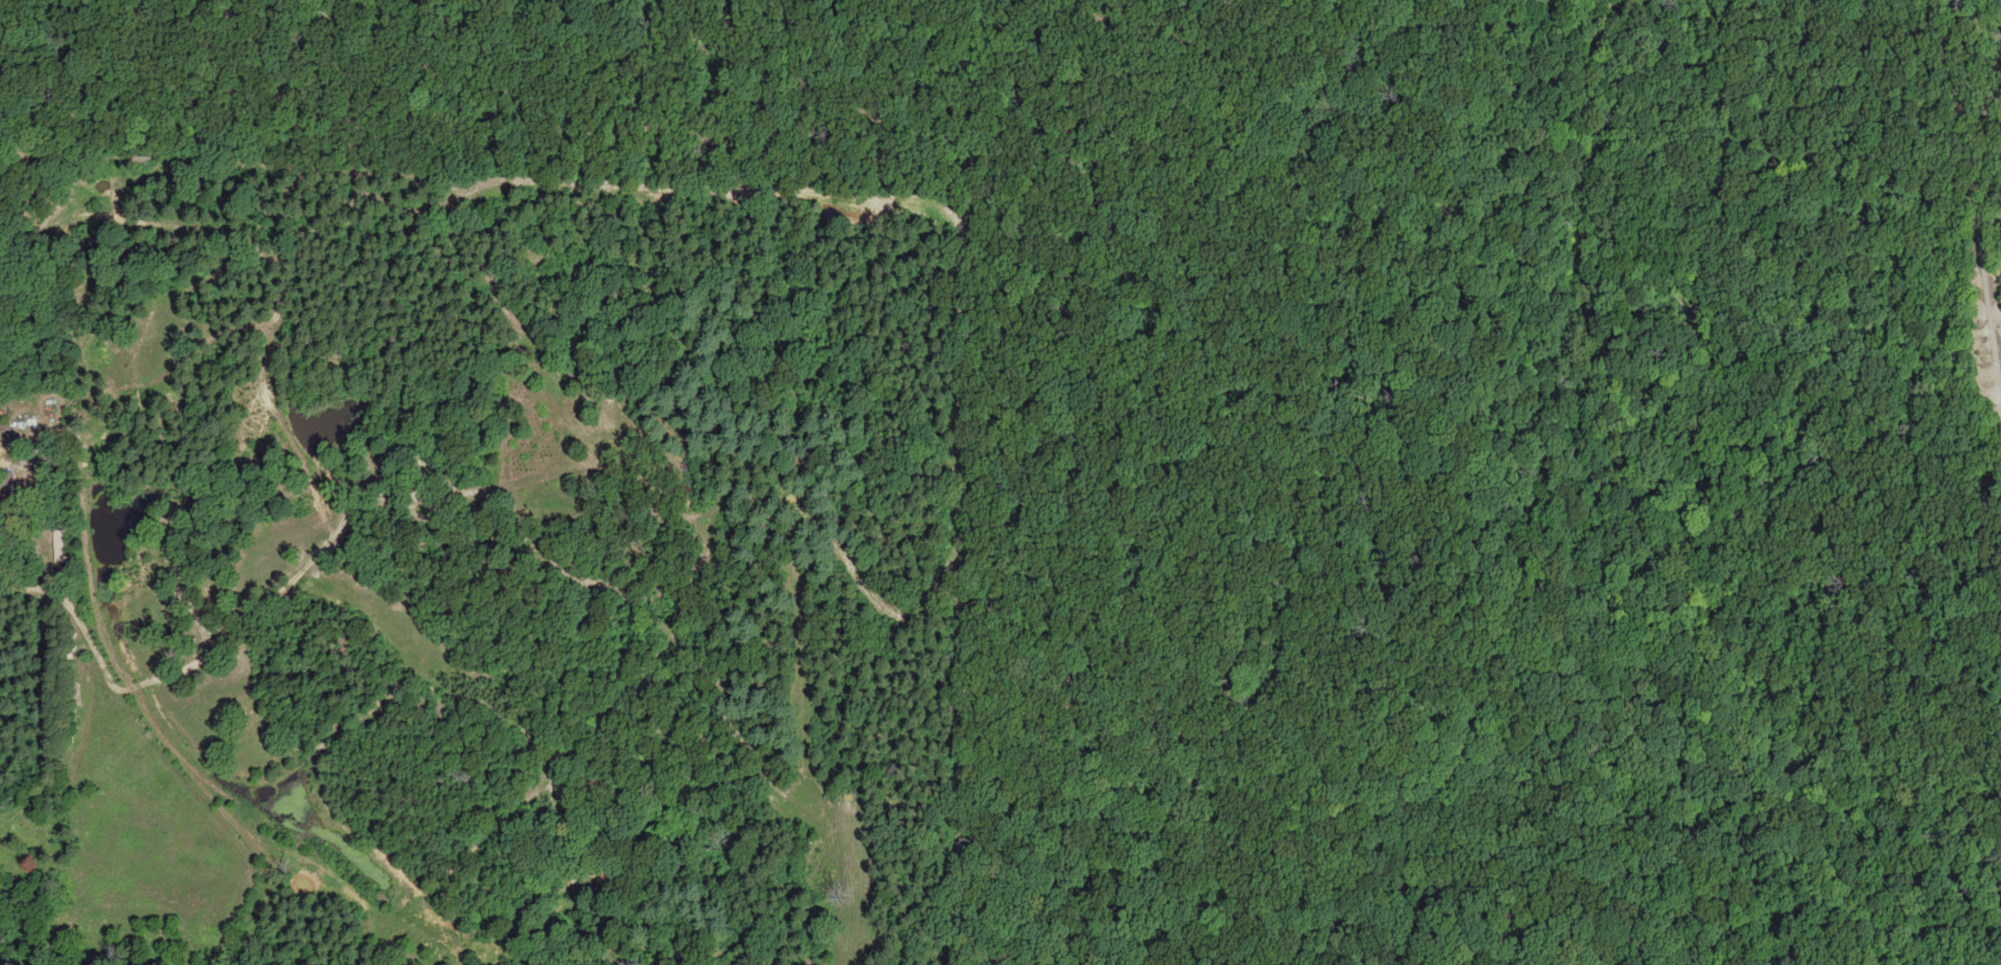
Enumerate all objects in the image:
road: (1972, 183)
road: (1007, 227)
park: (1361, 434)
road: (1701, 546)

